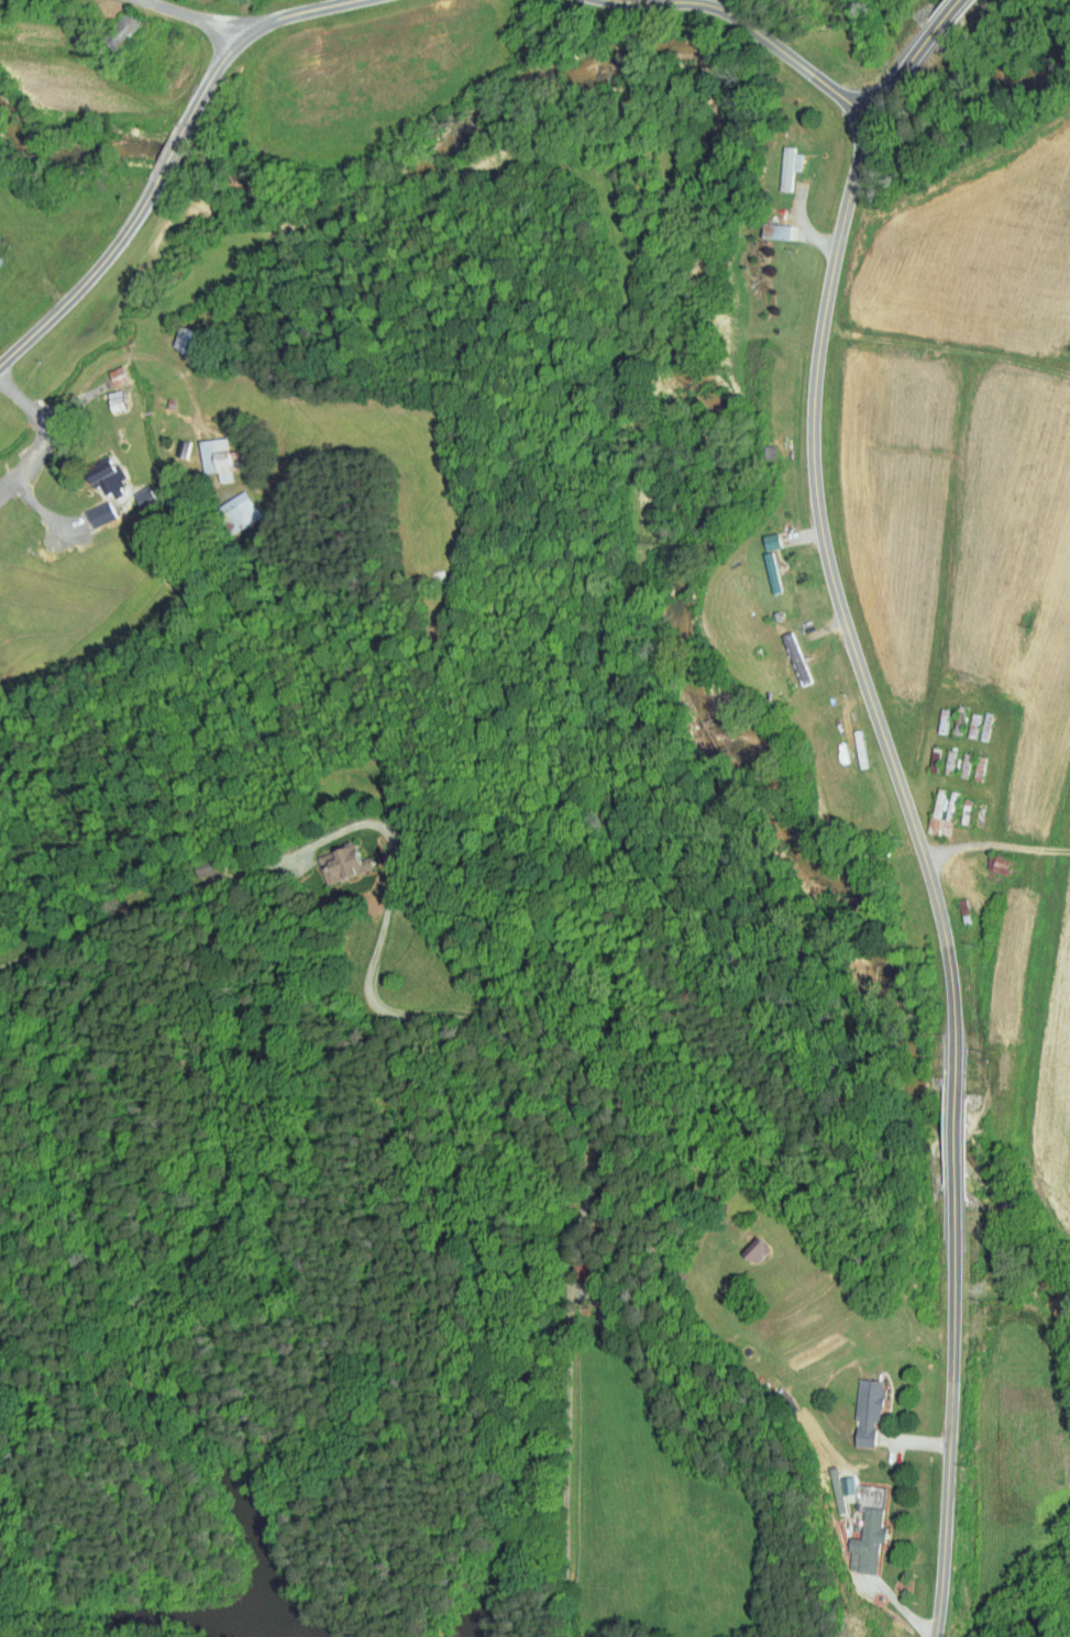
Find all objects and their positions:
road: (344, 1)
road: (194, 16)
building: (125, 30)
road: (758, 32)
road: (246, 34)
road: (915, 56)
road: (169, 155)
building: (777, 161)
building: (793, 167)
building: (764, 226)
building: (780, 231)
building: (1, 258)
road: (86, 280)
building: (175, 333)
building: (191, 339)
building: (106, 369)
building: (121, 376)
building: (104, 394)
building: (119, 400)
building: (172, 402)
road: (71, 405)
building: (185, 449)
building: (771, 451)
building: (221, 458)
road: (27, 464)
building: (92, 469)
building: (110, 477)
road: (9, 485)
building: (130, 488)
building: (146, 496)
building: (87, 508)
building: (239, 512)
building: (101, 515)
building: (760, 534)
building: (760, 566)
building: (775, 572)
building: (440, 583)
road: (841, 610)
building: (784, 652)
building: (803, 662)
building: (946, 721)
building: (962, 721)
building: (977, 726)
building: (990, 726)
building: (937, 760)
building: (952, 761)
building: (968, 765)
building: (983, 770)
building: (940, 806)
building: (969, 811)
building: (982, 816)
building: (331, 858)
building: (196, 859)
building: (990, 859)
building: (346, 864)
building: (1005, 864)
building: (213, 865)
building: (968, 911)
road: (463, 1016)
road: (956, 1138)
building: (610, 1195)
building: (751, 1217)
building: (744, 1245)
building: (760, 1248)
building: (591, 1267)
building: (624, 1303)
building: (856, 1404)
road: (951, 1408)
building: (871, 1409)
building: (837, 1489)
building: (854, 1537)
building: (870, 1541)
road: (896, 1601)

